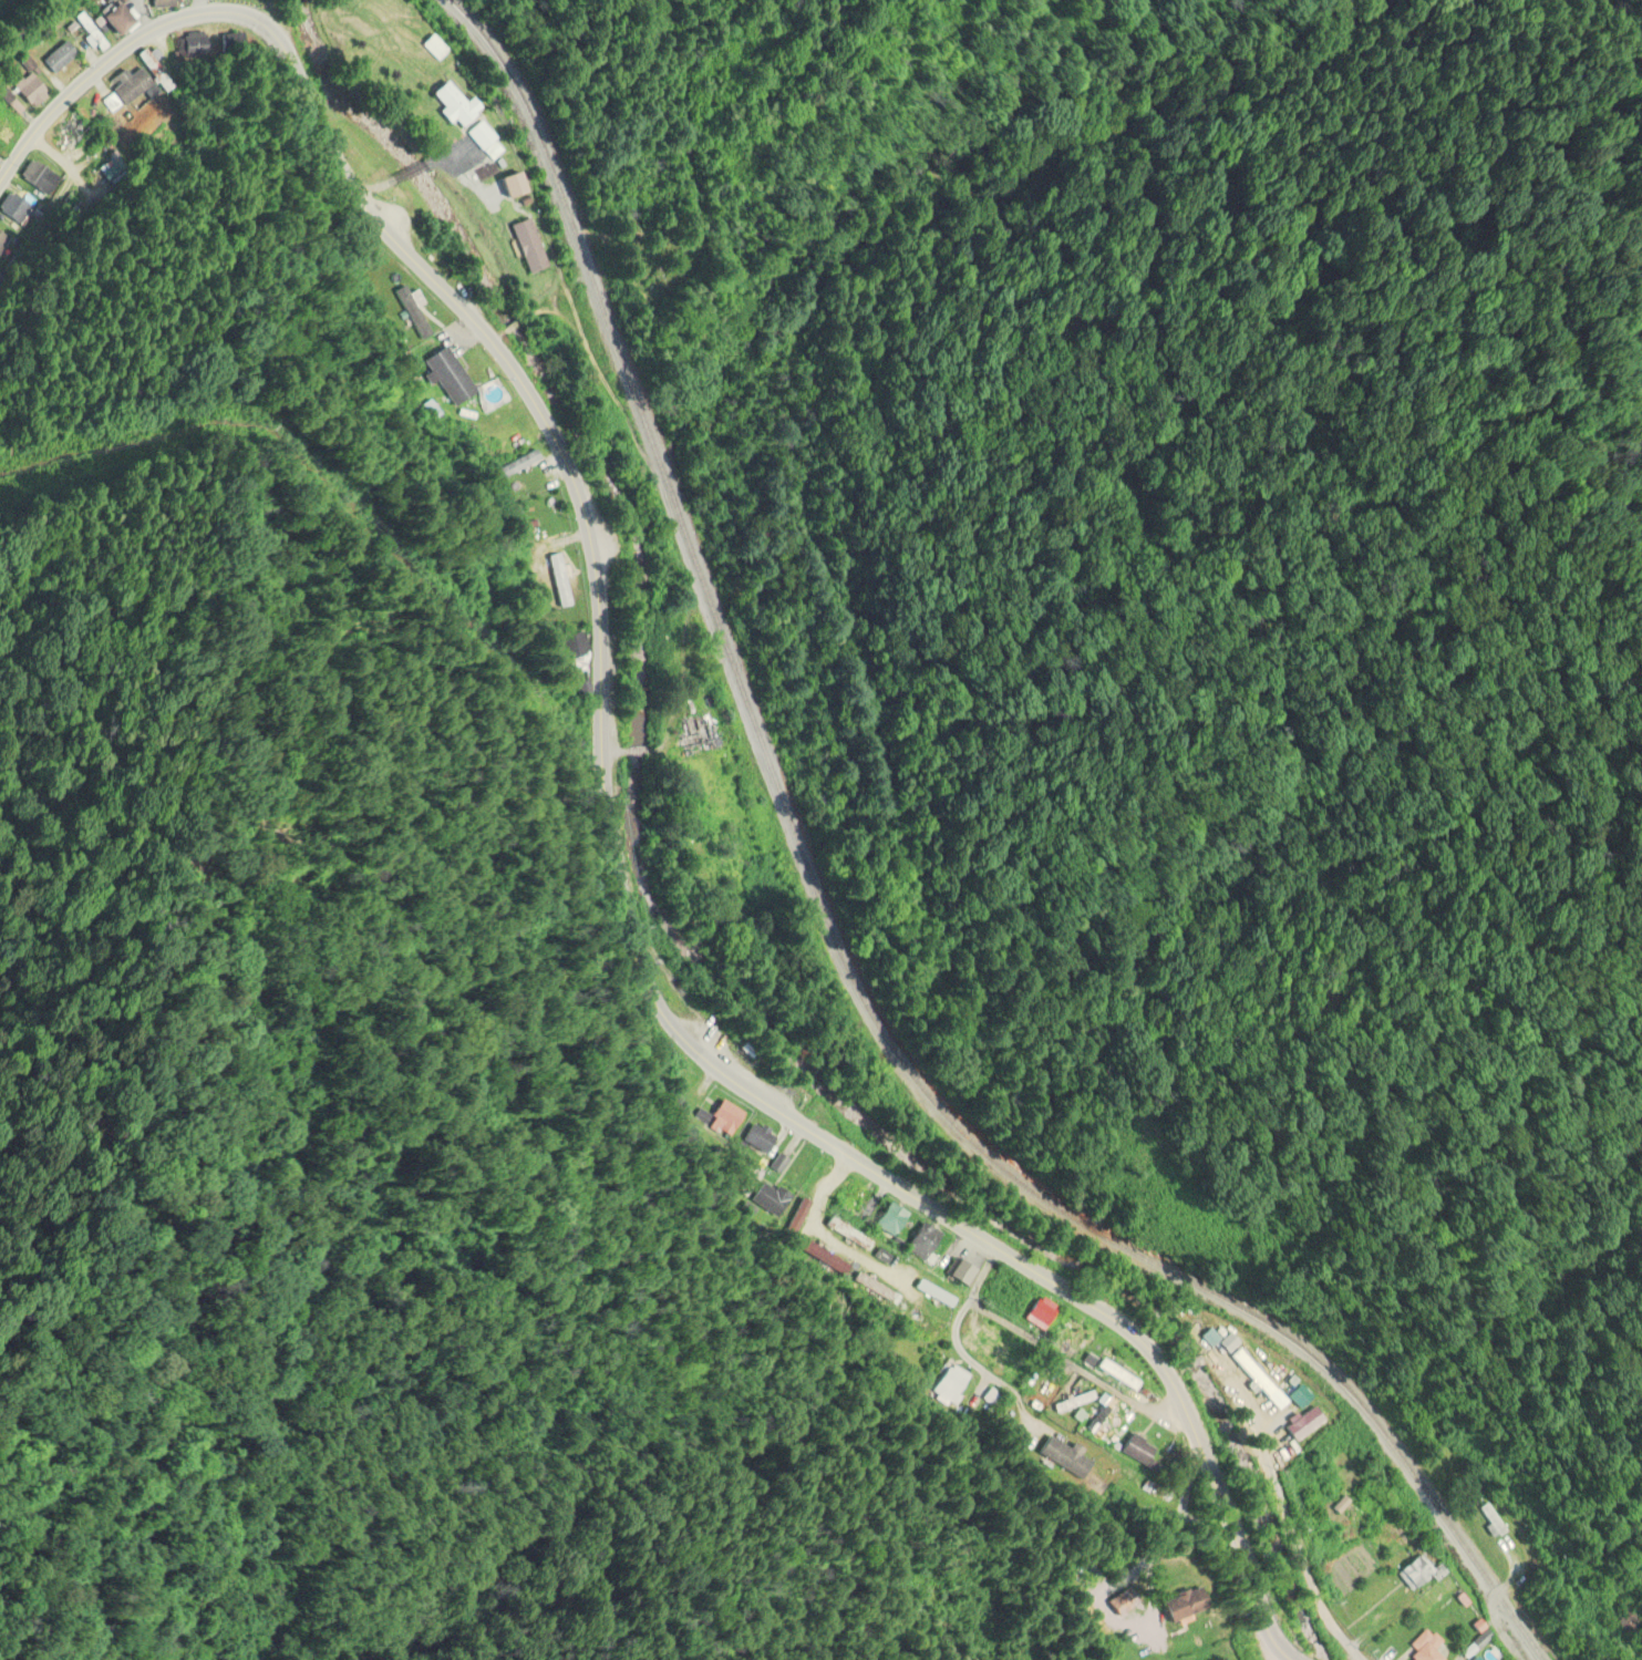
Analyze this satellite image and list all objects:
building: (147, 0)
building: (165, 2)
building: (122, 17)
building: (90, 32)
building: (196, 43)
building: (434, 48)
building: (59, 56)
building: (25, 60)
building: (155, 70)
building: (31, 87)
building: (130, 87)
building: (468, 116)
building: (72, 125)
building: (7, 131)
building: (40, 175)
road: (409, 176)
building: (516, 183)
road: (369, 188)
building: (14, 205)
building: (2, 241)
building: (530, 244)
road: (540, 300)
building: (413, 311)
road: (516, 324)
road: (498, 338)
road: (507, 365)
building: (448, 374)
building: (518, 462)
building: (560, 579)
building: (557, 580)
building: (577, 643)
building: (701, 730)
railway: (832, 947)
building: (727, 1115)
building: (762, 1135)
building: (743, 1179)
building: (773, 1195)
building: (858, 1195)
building: (891, 1217)
building: (797, 1225)
building: (849, 1231)
road: (826, 1236)
building: (923, 1237)
building: (823, 1259)
building: (961, 1275)
building: (876, 1288)
building: (1008, 1291)
building: (937, 1292)
road: (1080, 1299)
building: (1043, 1312)
building: (921, 1319)
building: (1073, 1331)
building: (1208, 1338)
building: (987, 1342)
building: (1228, 1342)
road: (960, 1344)
building: (1209, 1350)
road: (1207, 1358)
building: (1087, 1360)
road: (1188, 1367)
road: (1072, 1370)
road: (1173, 1373)
building: (1116, 1374)
building: (1256, 1379)
building: (949, 1385)
building: (1269, 1388)
building: (1298, 1395)
building: (992, 1398)
building: (1081, 1399)
building: (1302, 1421)
building: (1113, 1422)
building: (1279, 1430)
building: (1135, 1446)
building: (1066, 1456)
building: (1490, 1516)
road: (1148, 1527)
road: (1298, 1565)
road: (1515, 1569)
building: (1416, 1570)
building: (1124, 1602)
building: (1192, 1602)
building: (1636, 1640)
building: (1421, 1646)
building: (1471, 1658)

